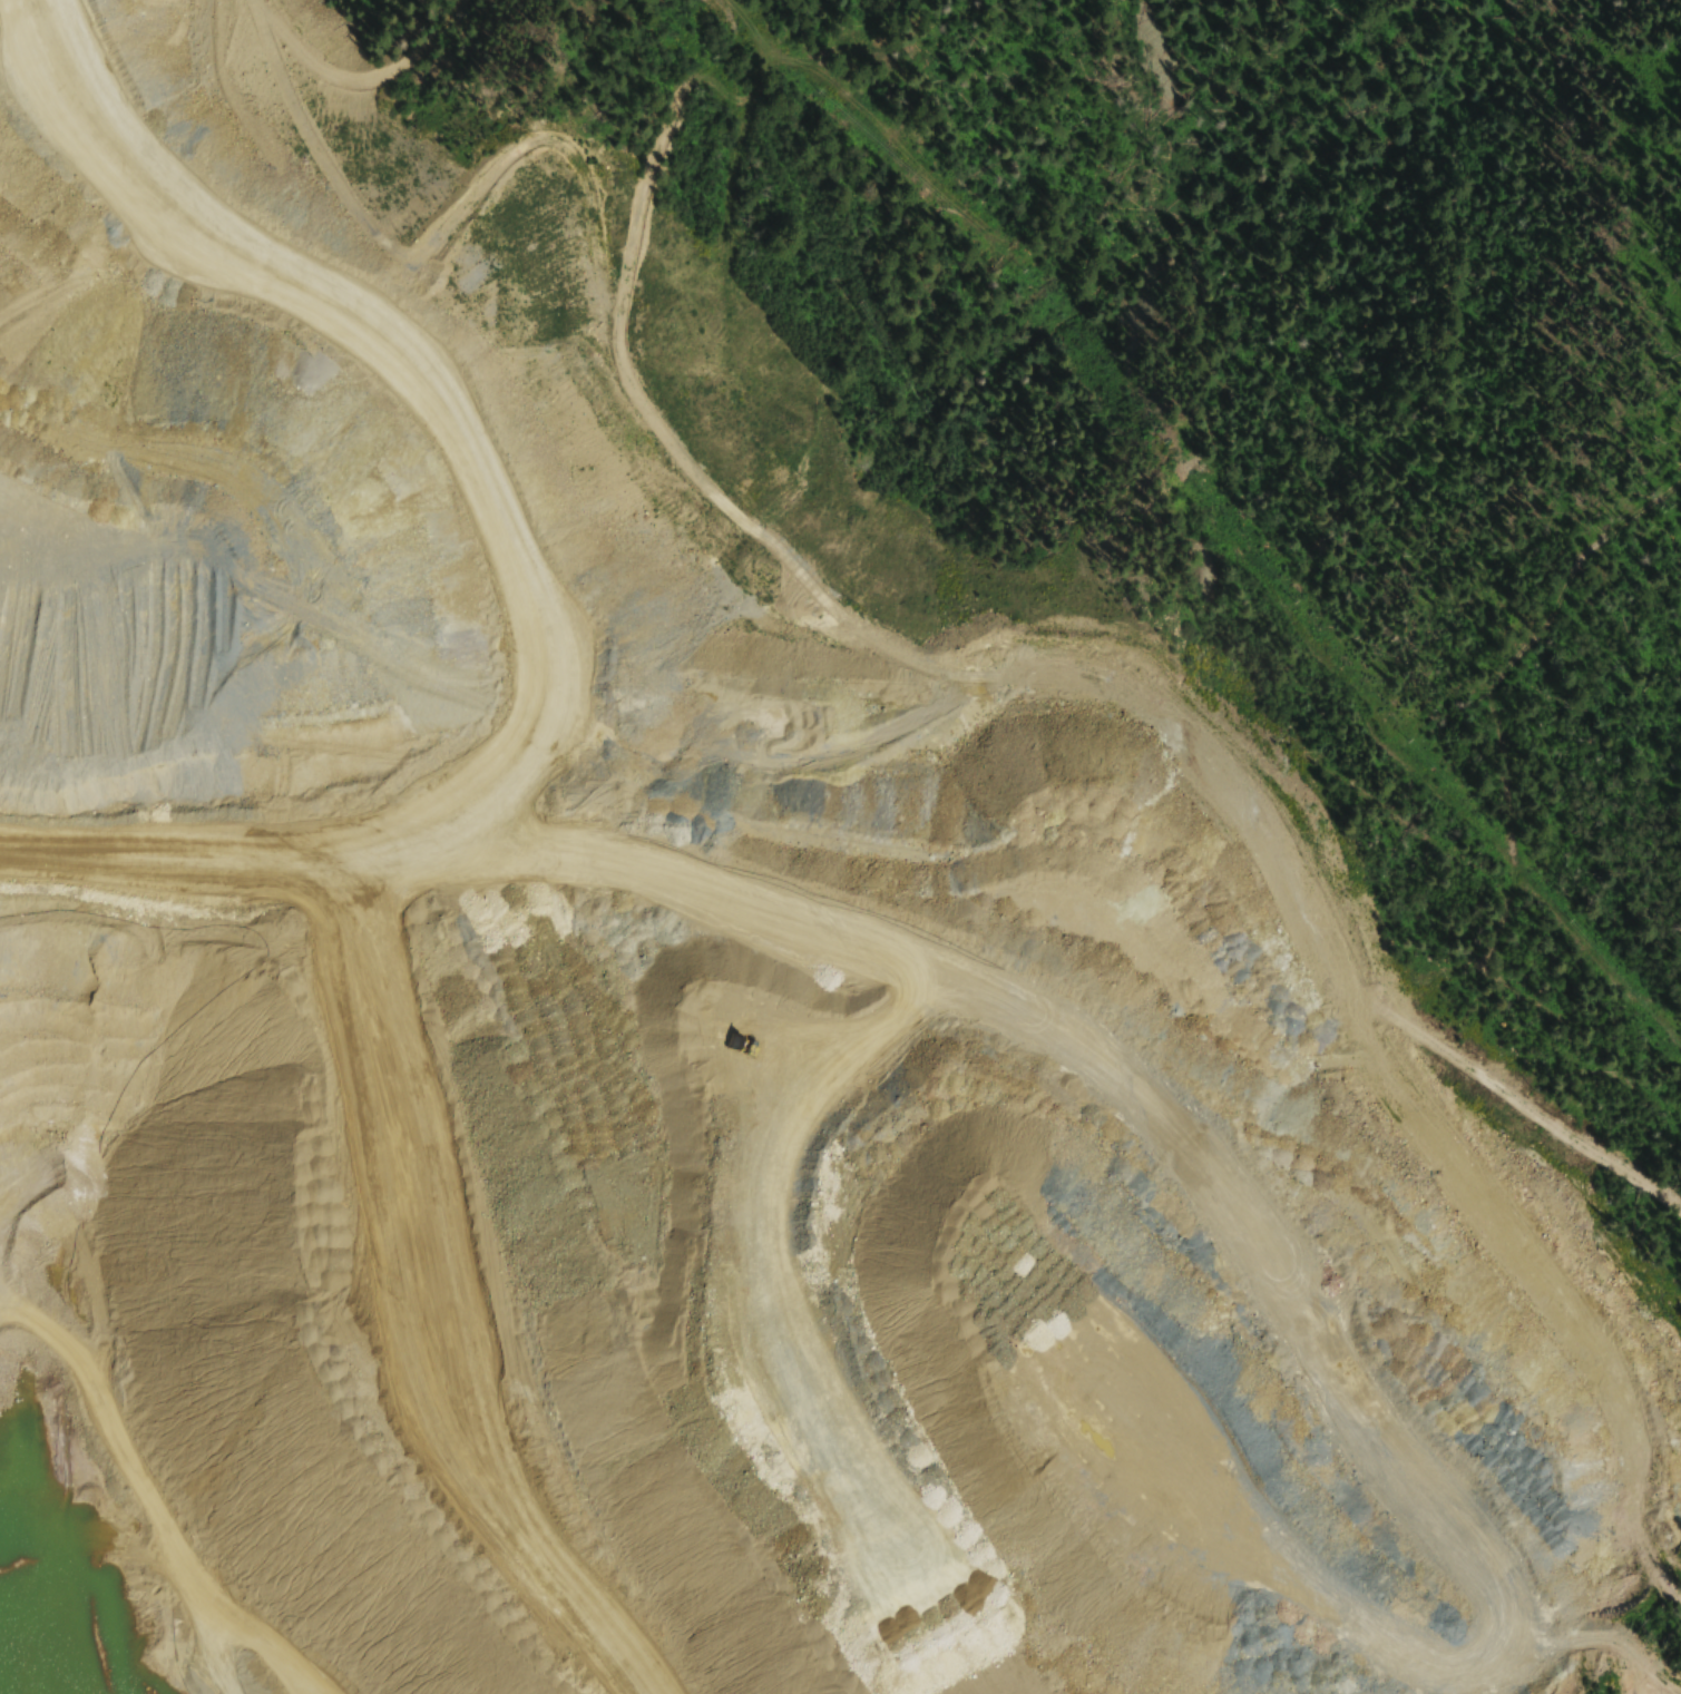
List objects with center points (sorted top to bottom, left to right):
quarry: (736, 944)

